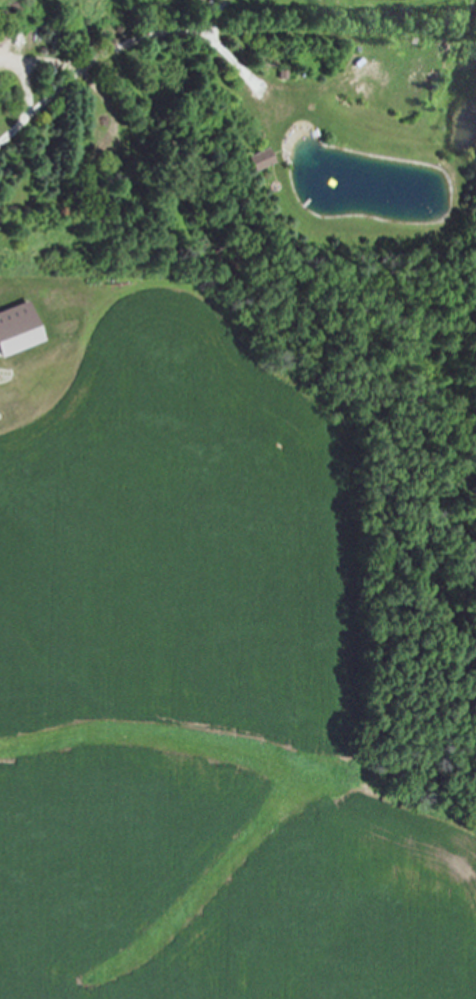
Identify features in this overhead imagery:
road: (123, 48)
road: (54, 63)
road: (25, 78)
building: (257, 161)
building: (15, 330)

